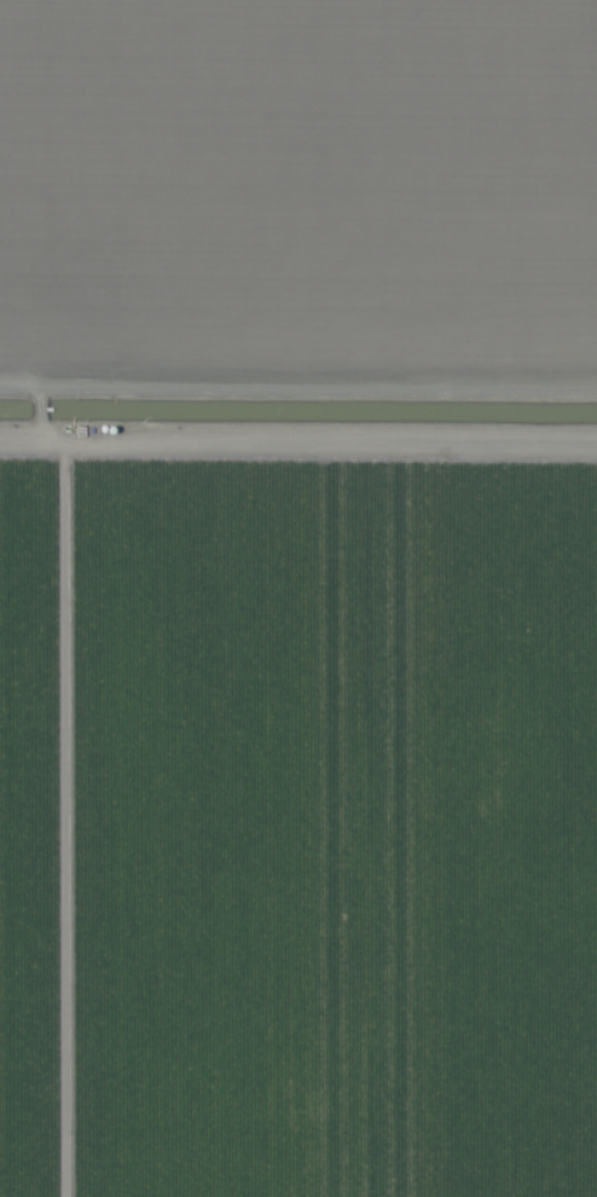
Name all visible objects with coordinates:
crop: (298, 598)

